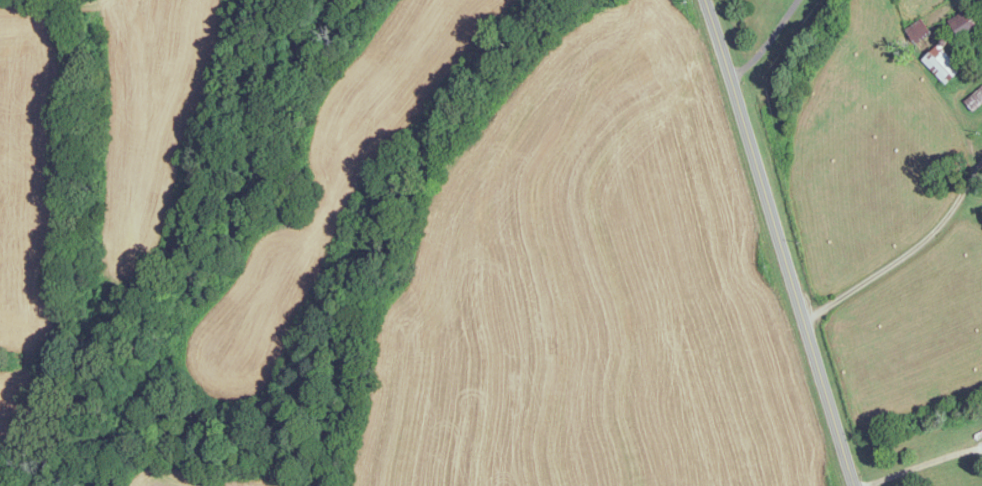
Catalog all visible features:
building: (964, 22)
building: (918, 31)
road: (775, 44)
building: (942, 65)
building: (975, 99)
road: (780, 242)
road: (905, 253)
road: (922, 464)

